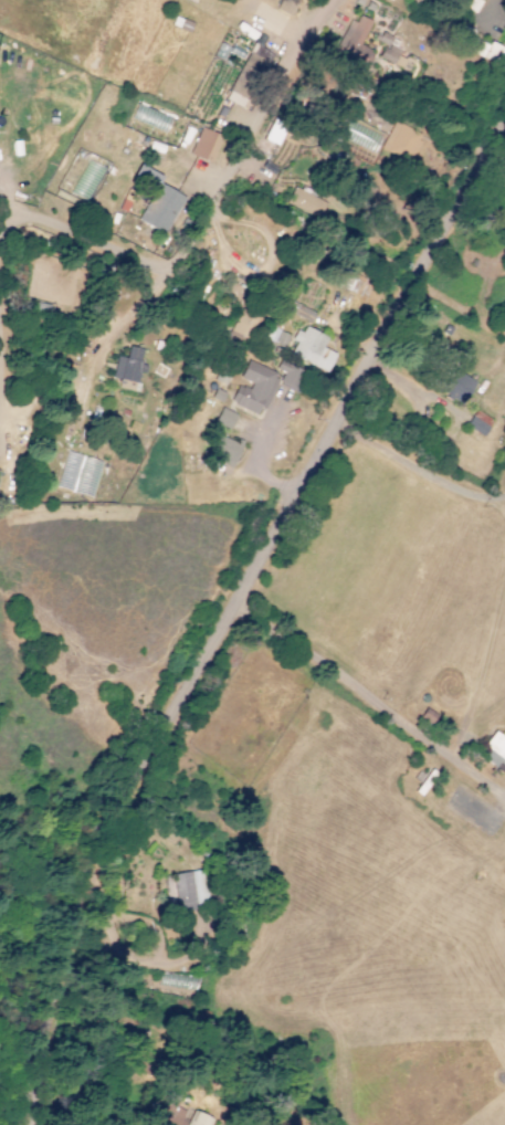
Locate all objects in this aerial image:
building: (389, 0)
building: (469, 4)
building: (285, 7)
building: (355, 43)
building: (480, 45)
building: (390, 52)
building: (236, 91)
building: (360, 136)
building: (401, 141)
building: (206, 145)
building: (304, 202)
road: (202, 204)
building: (160, 208)
road: (257, 274)
building: (243, 325)
building: (311, 348)
building: (128, 365)
building: (288, 375)
building: (457, 386)
building: (253, 388)
building: (224, 418)
building: (225, 451)
road: (254, 453)
road: (233, 616)
building: (494, 753)
road: (212, 760)
building: (187, 889)
building: (178, 1116)

